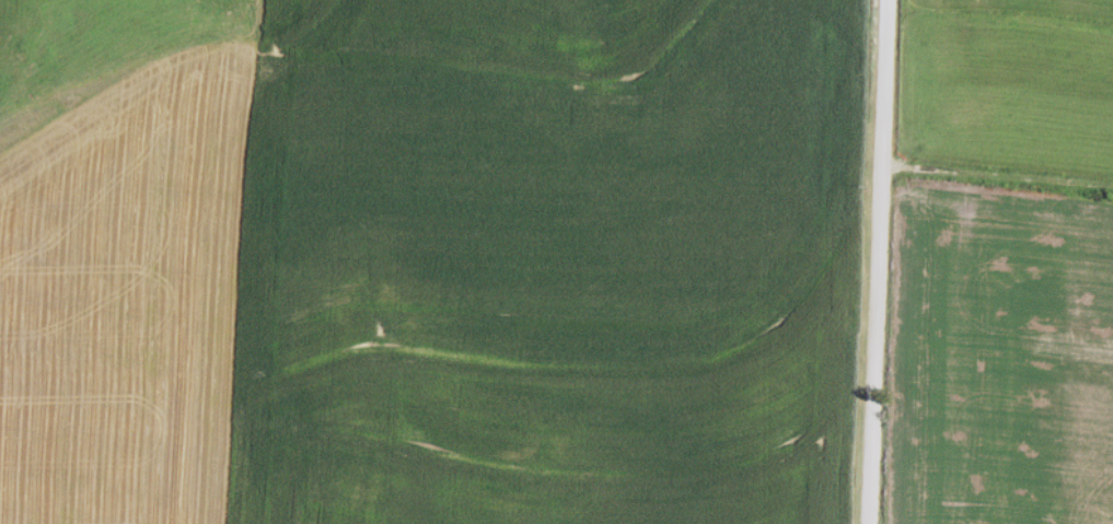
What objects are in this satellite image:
road: (994, 182)
road: (871, 261)

